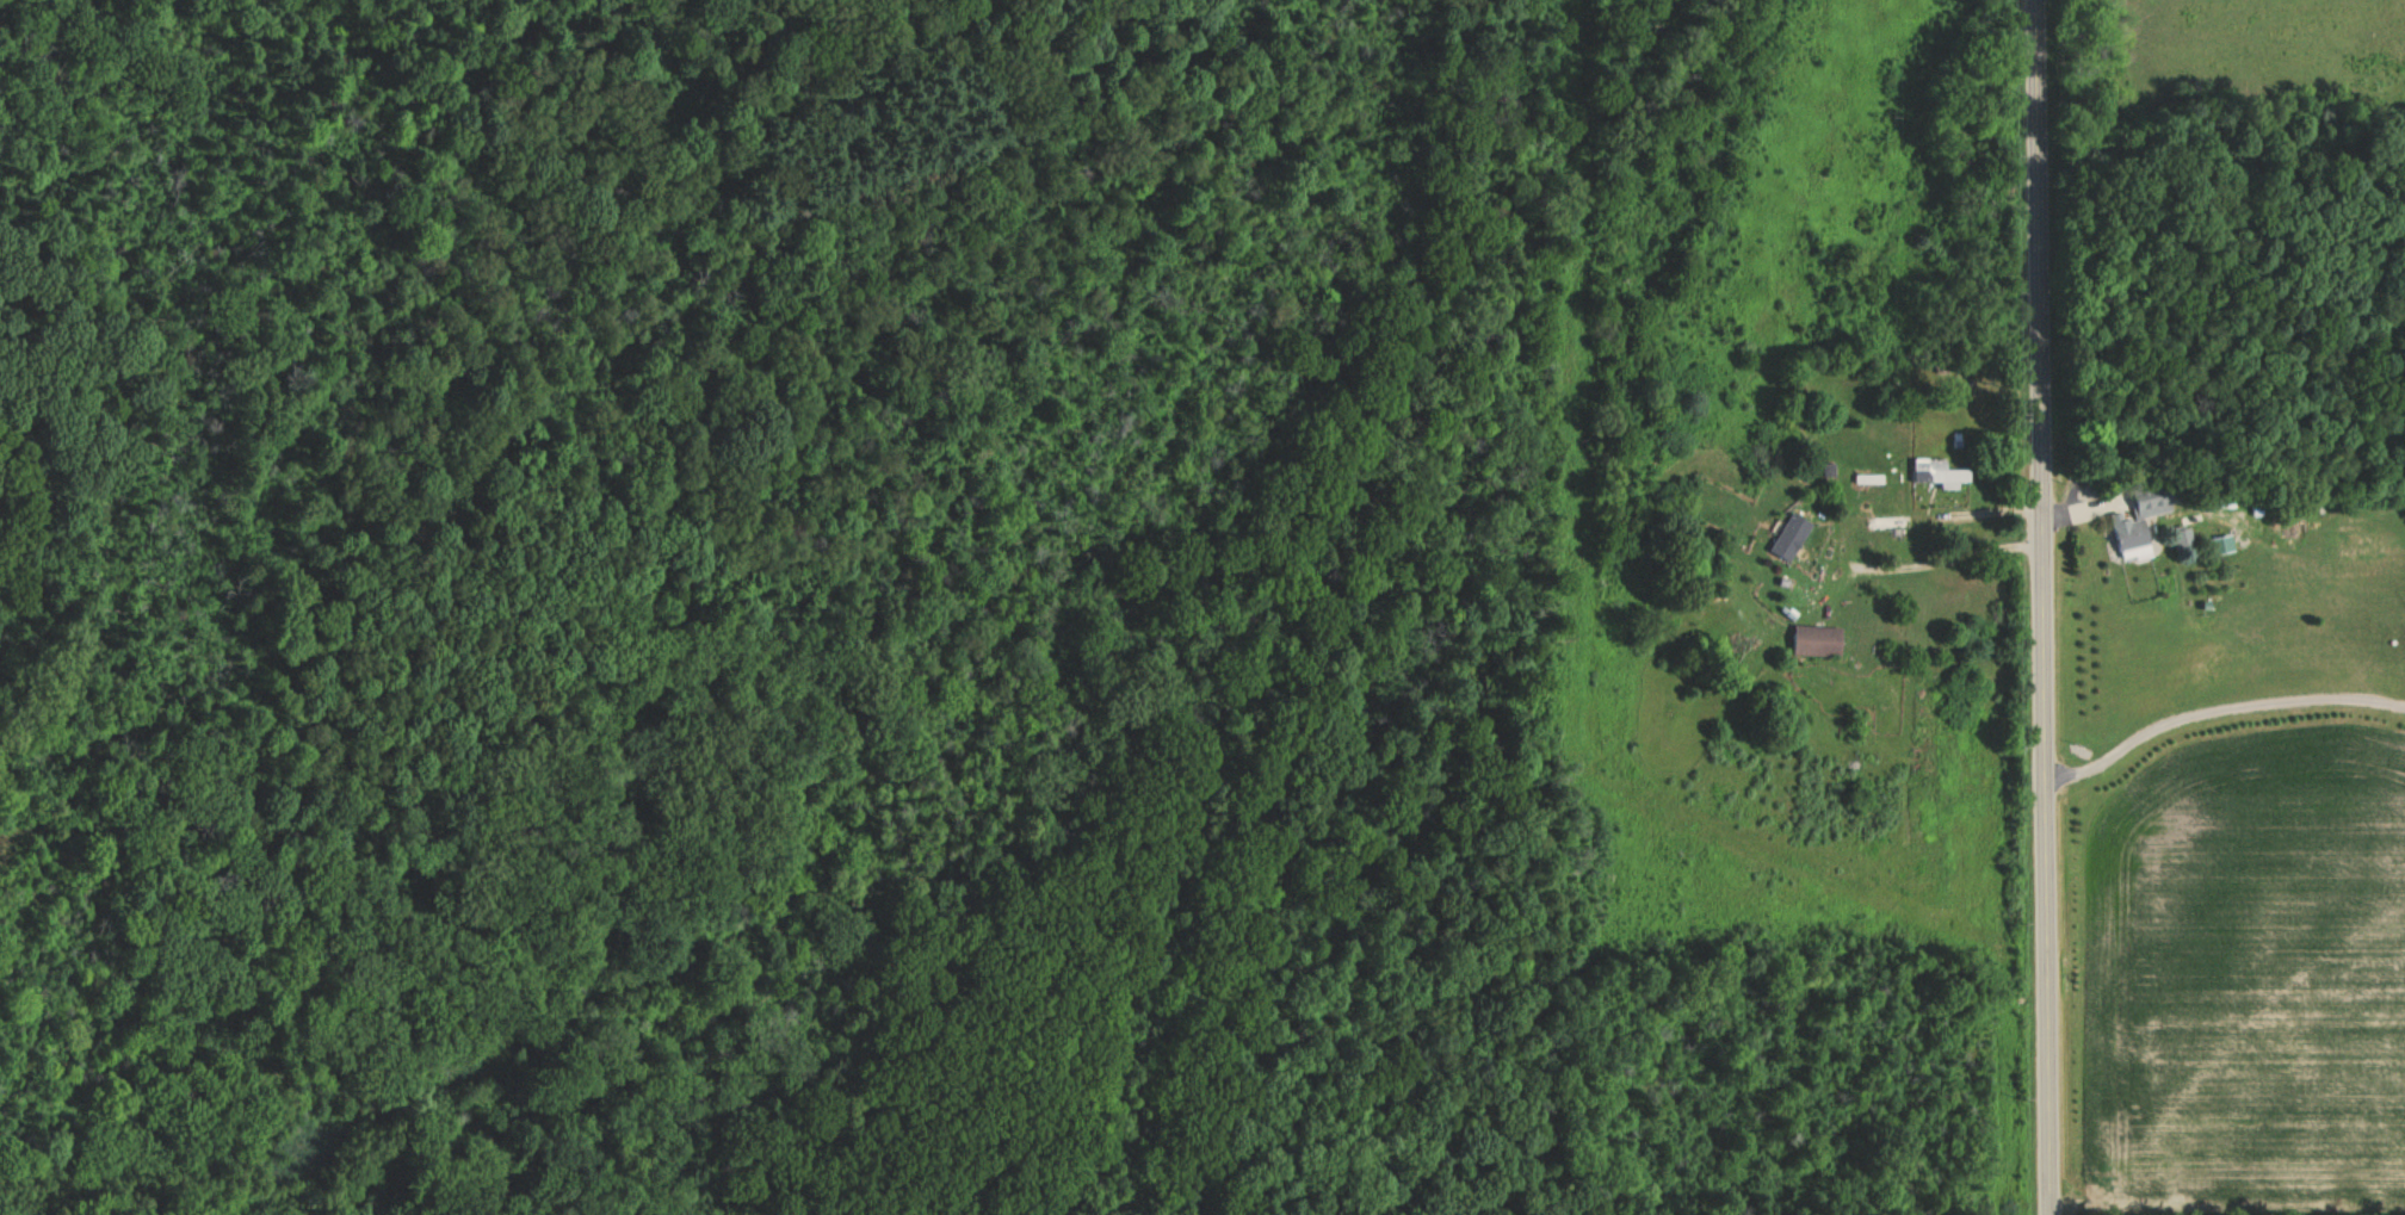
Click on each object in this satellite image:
building: (1941, 471)
building: (2143, 521)
building: (1792, 535)
building: (2188, 535)
building: (2225, 544)
road: (1950, 558)
road: (2040, 607)
building: (1820, 639)

